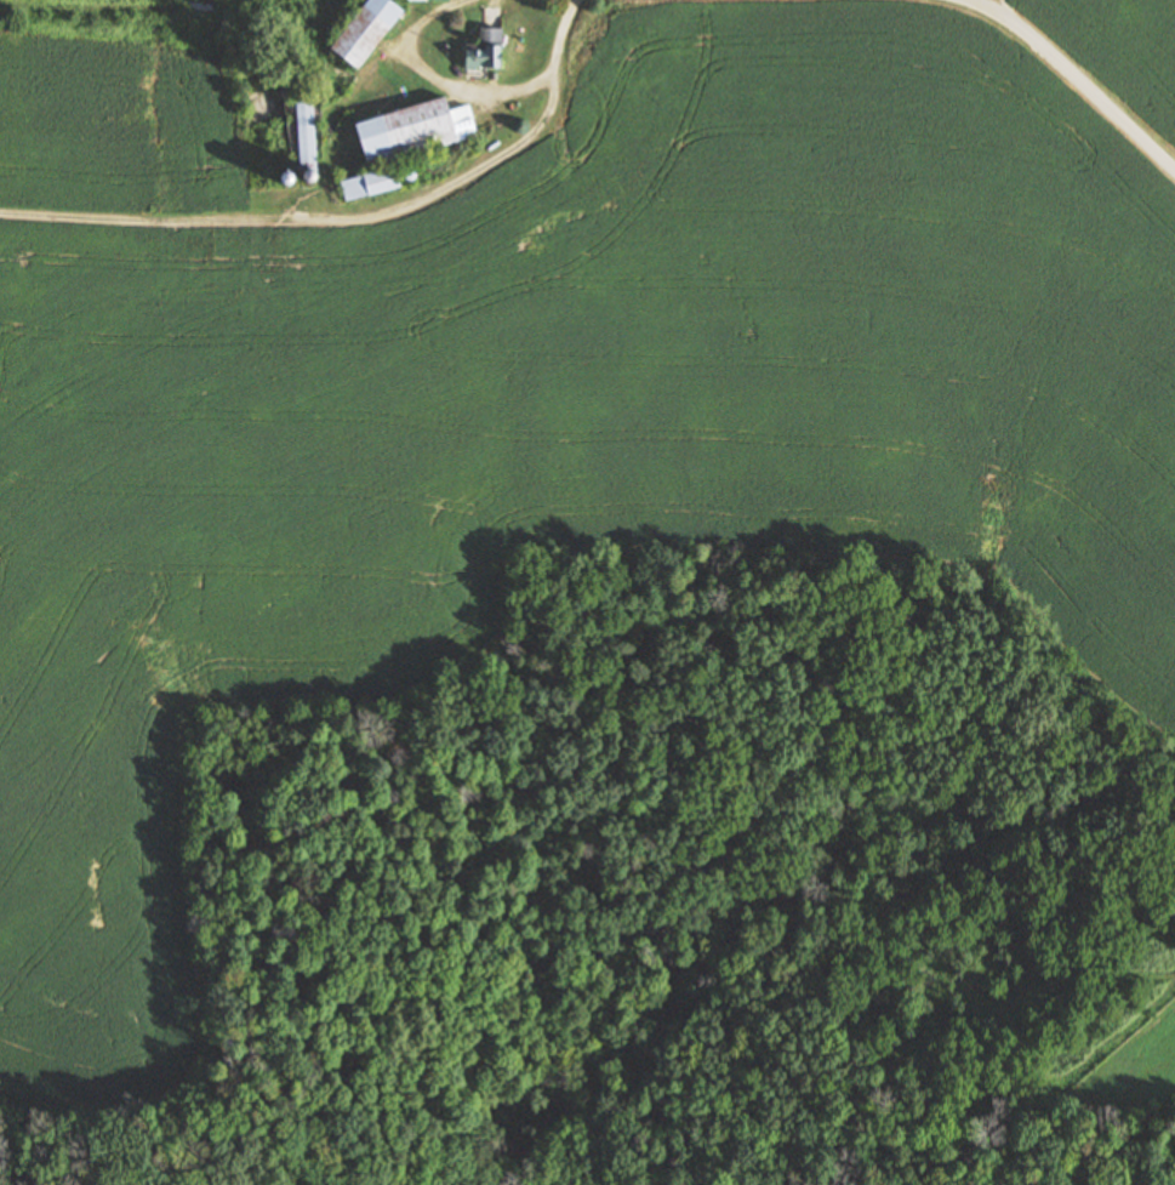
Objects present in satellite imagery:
building: (429, 1)
building: (370, 34)
building: (485, 51)
road: (1076, 76)
road: (475, 91)
building: (460, 123)
building: (403, 130)
building: (308, 133)
building: (371, 186)
road: (304, 217)

